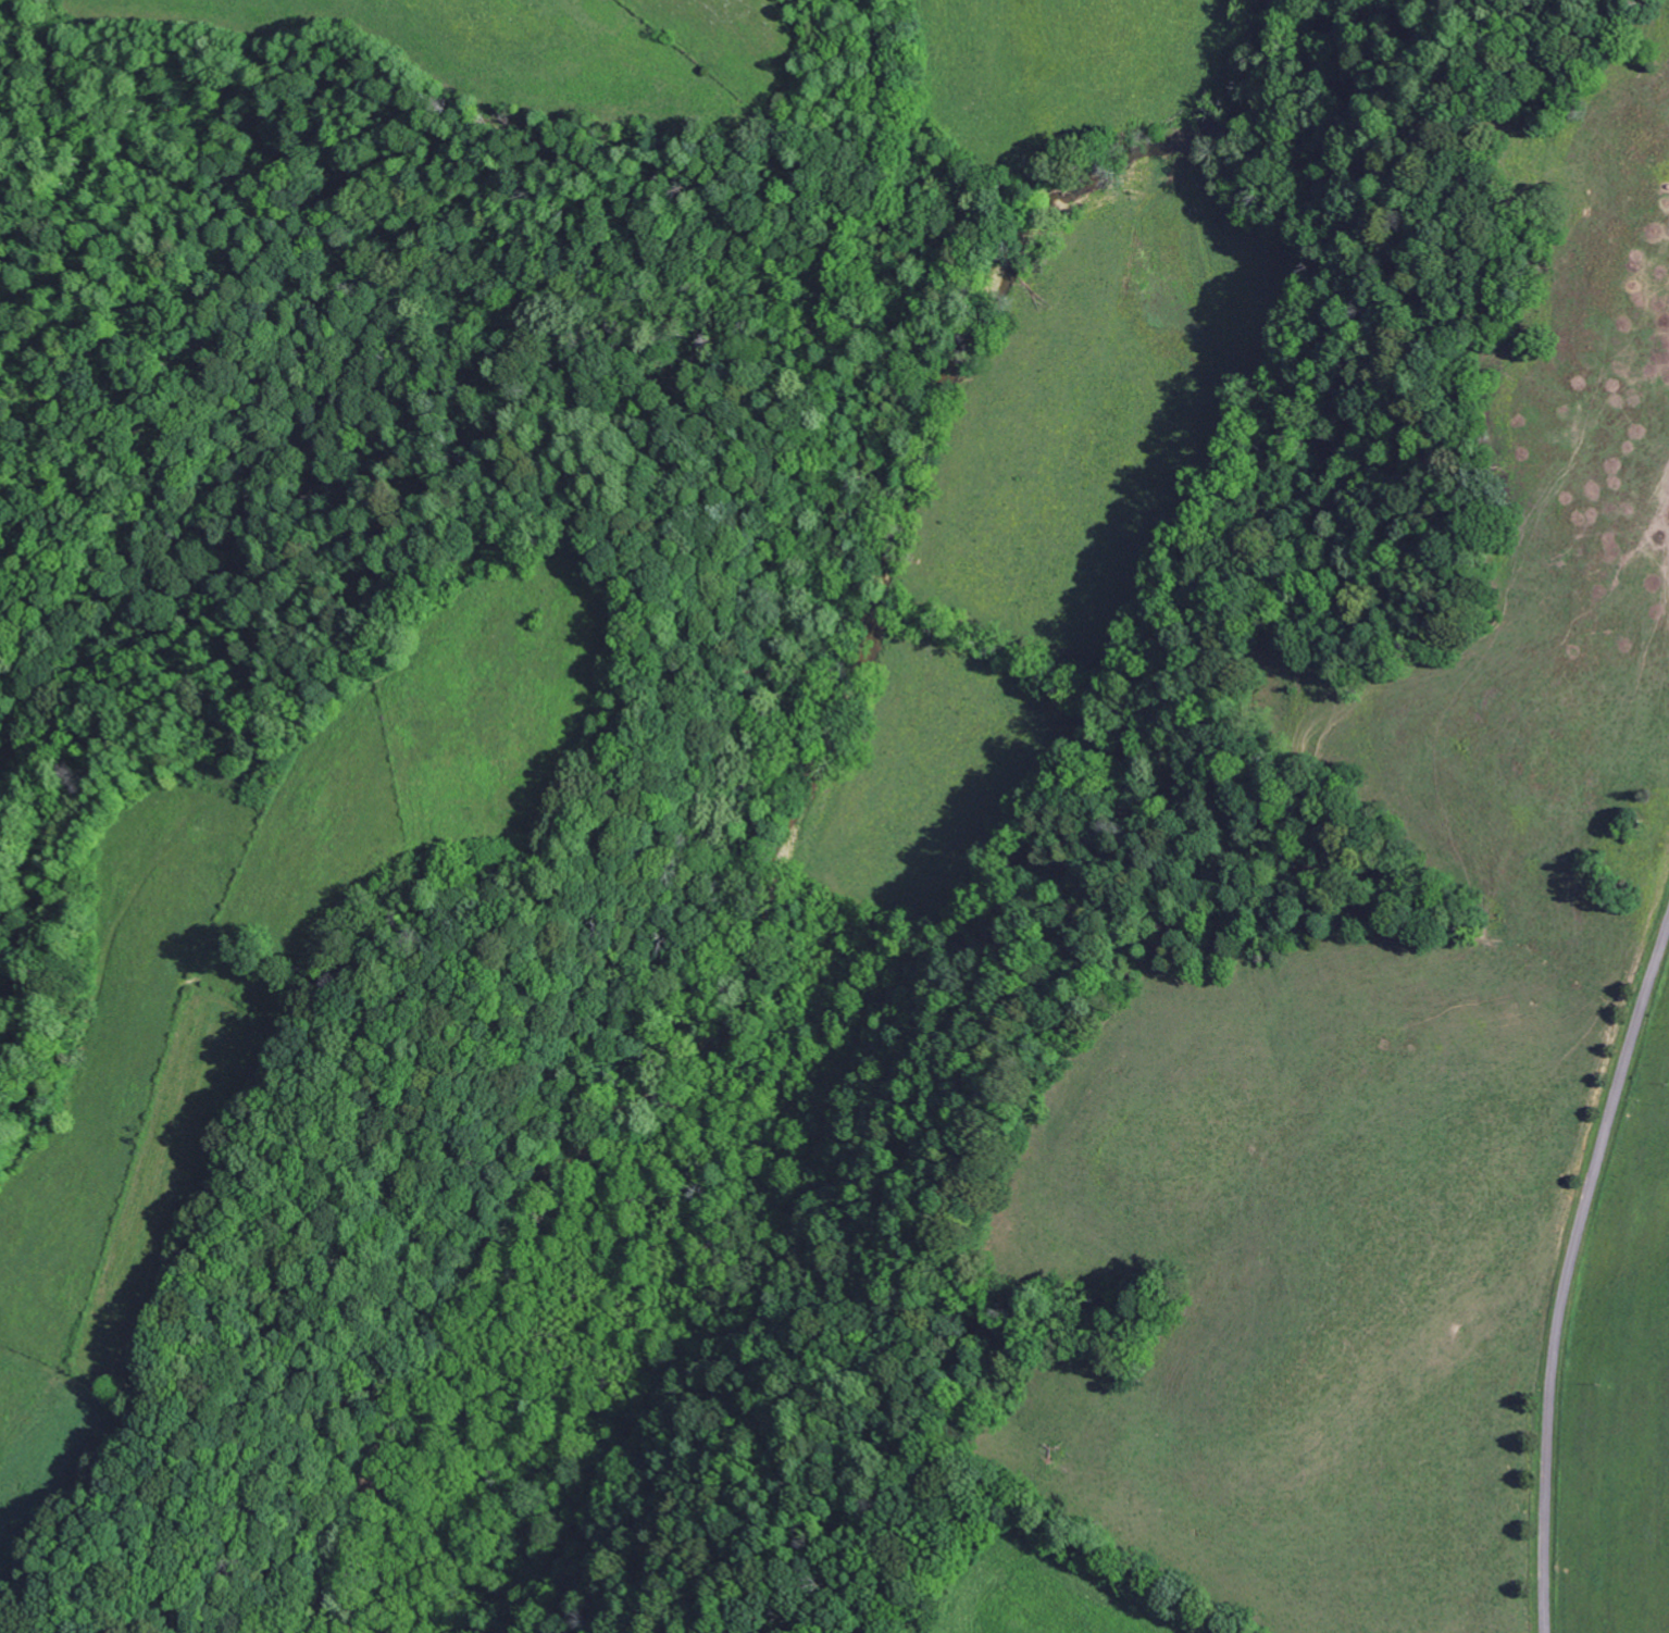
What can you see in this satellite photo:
road: (1569, 1273)

